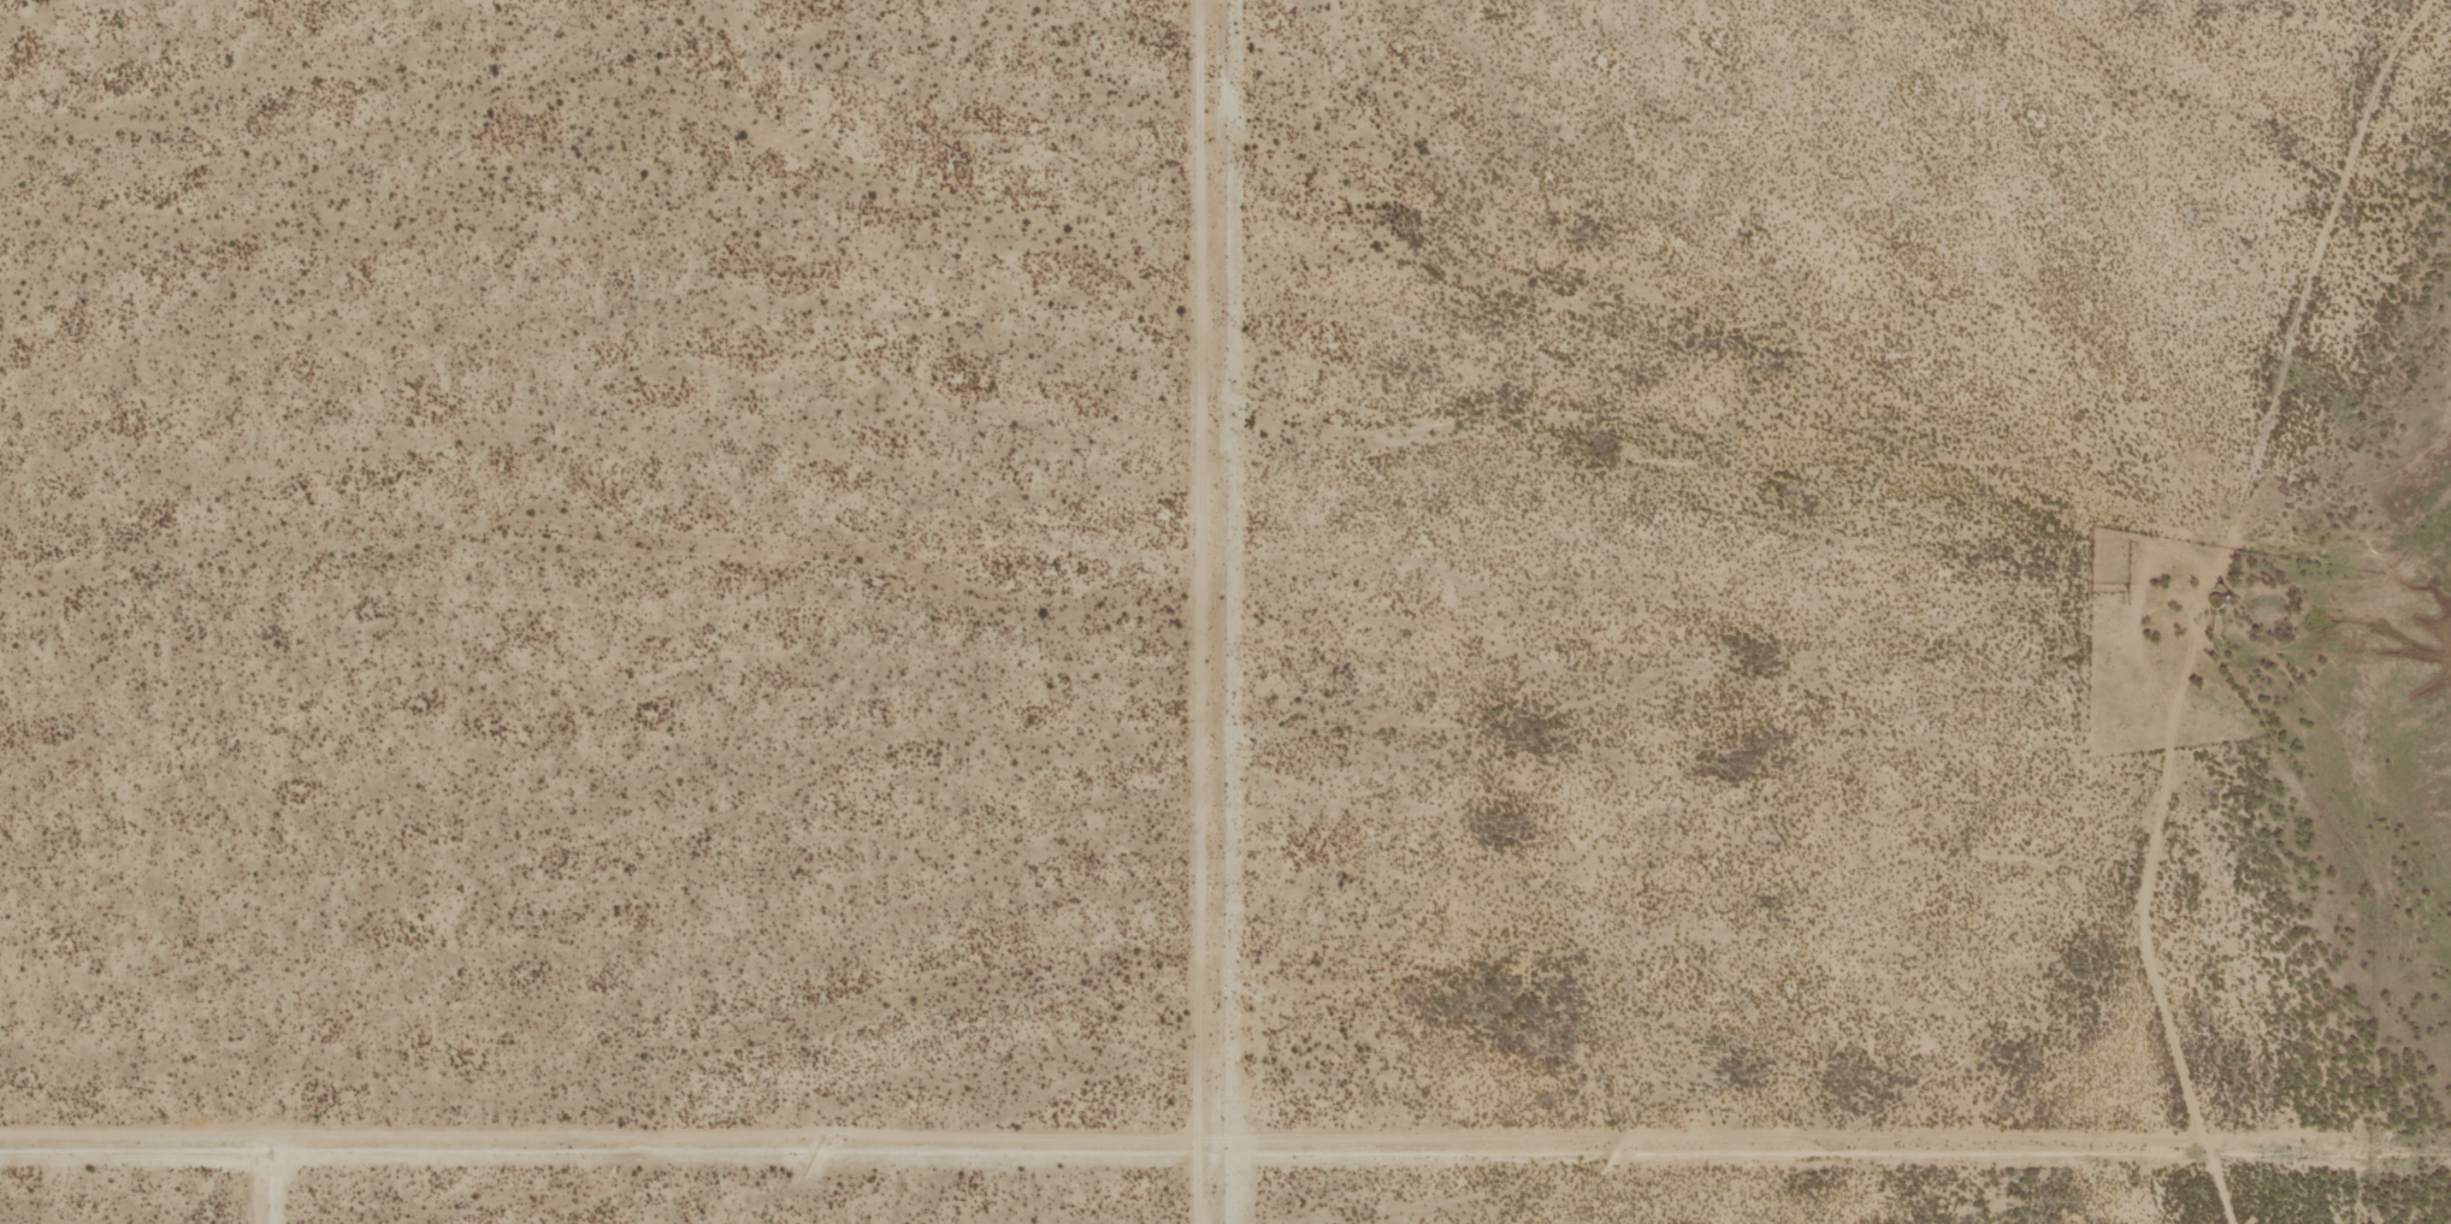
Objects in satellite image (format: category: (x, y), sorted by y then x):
road: (2171, 589)

